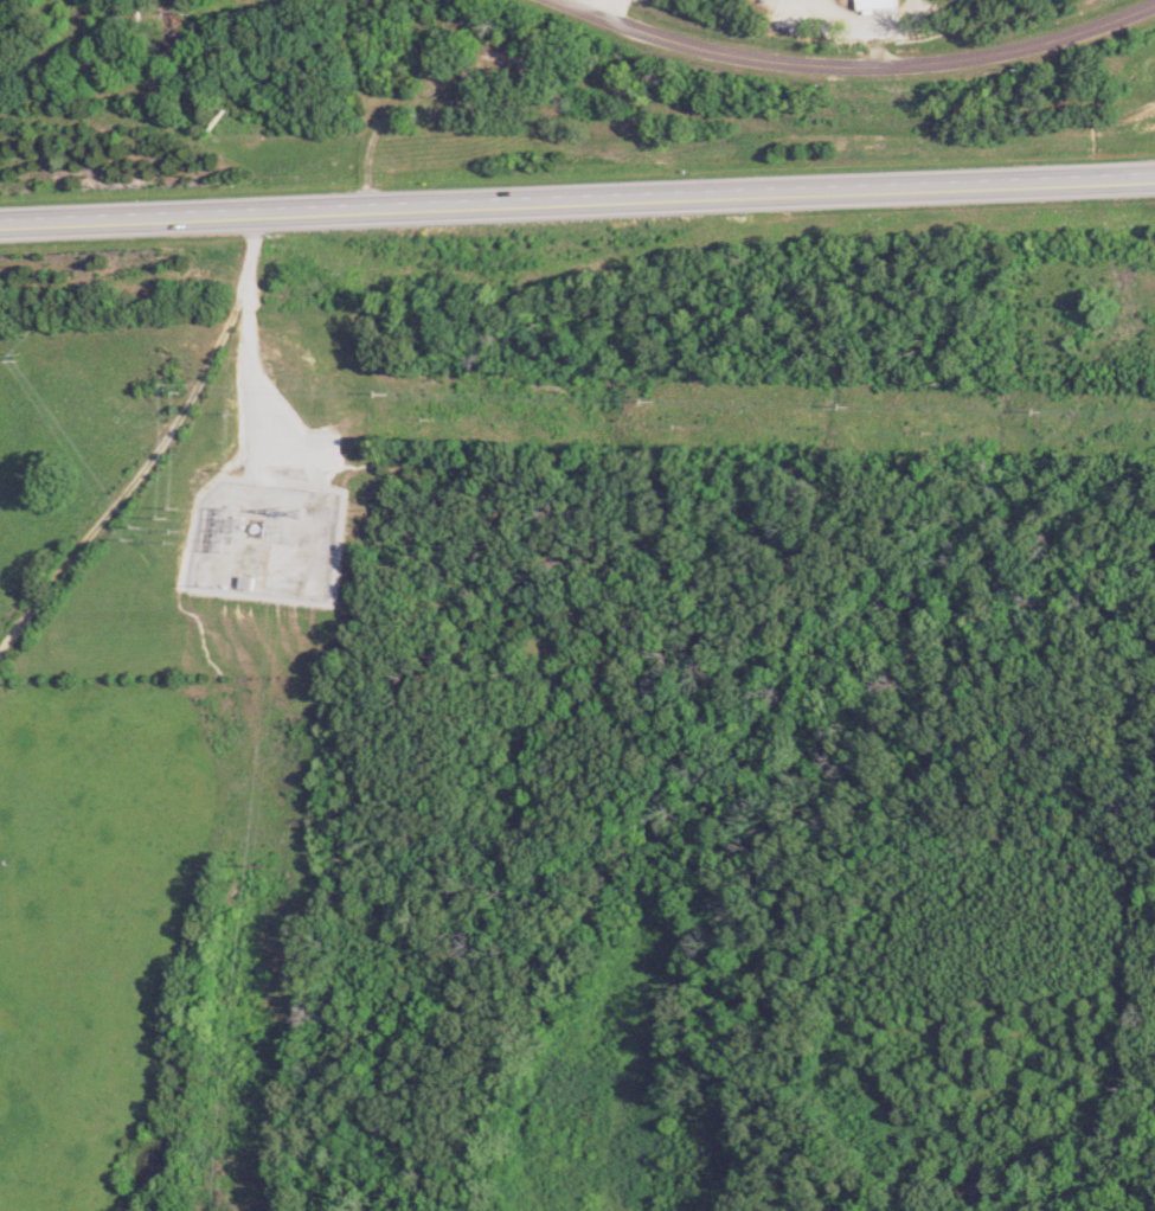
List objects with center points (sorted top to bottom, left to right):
building: (883, 4)
road: (608, 7)
road: (852, 18)
road: (855, 65)
road: (577, 198)

